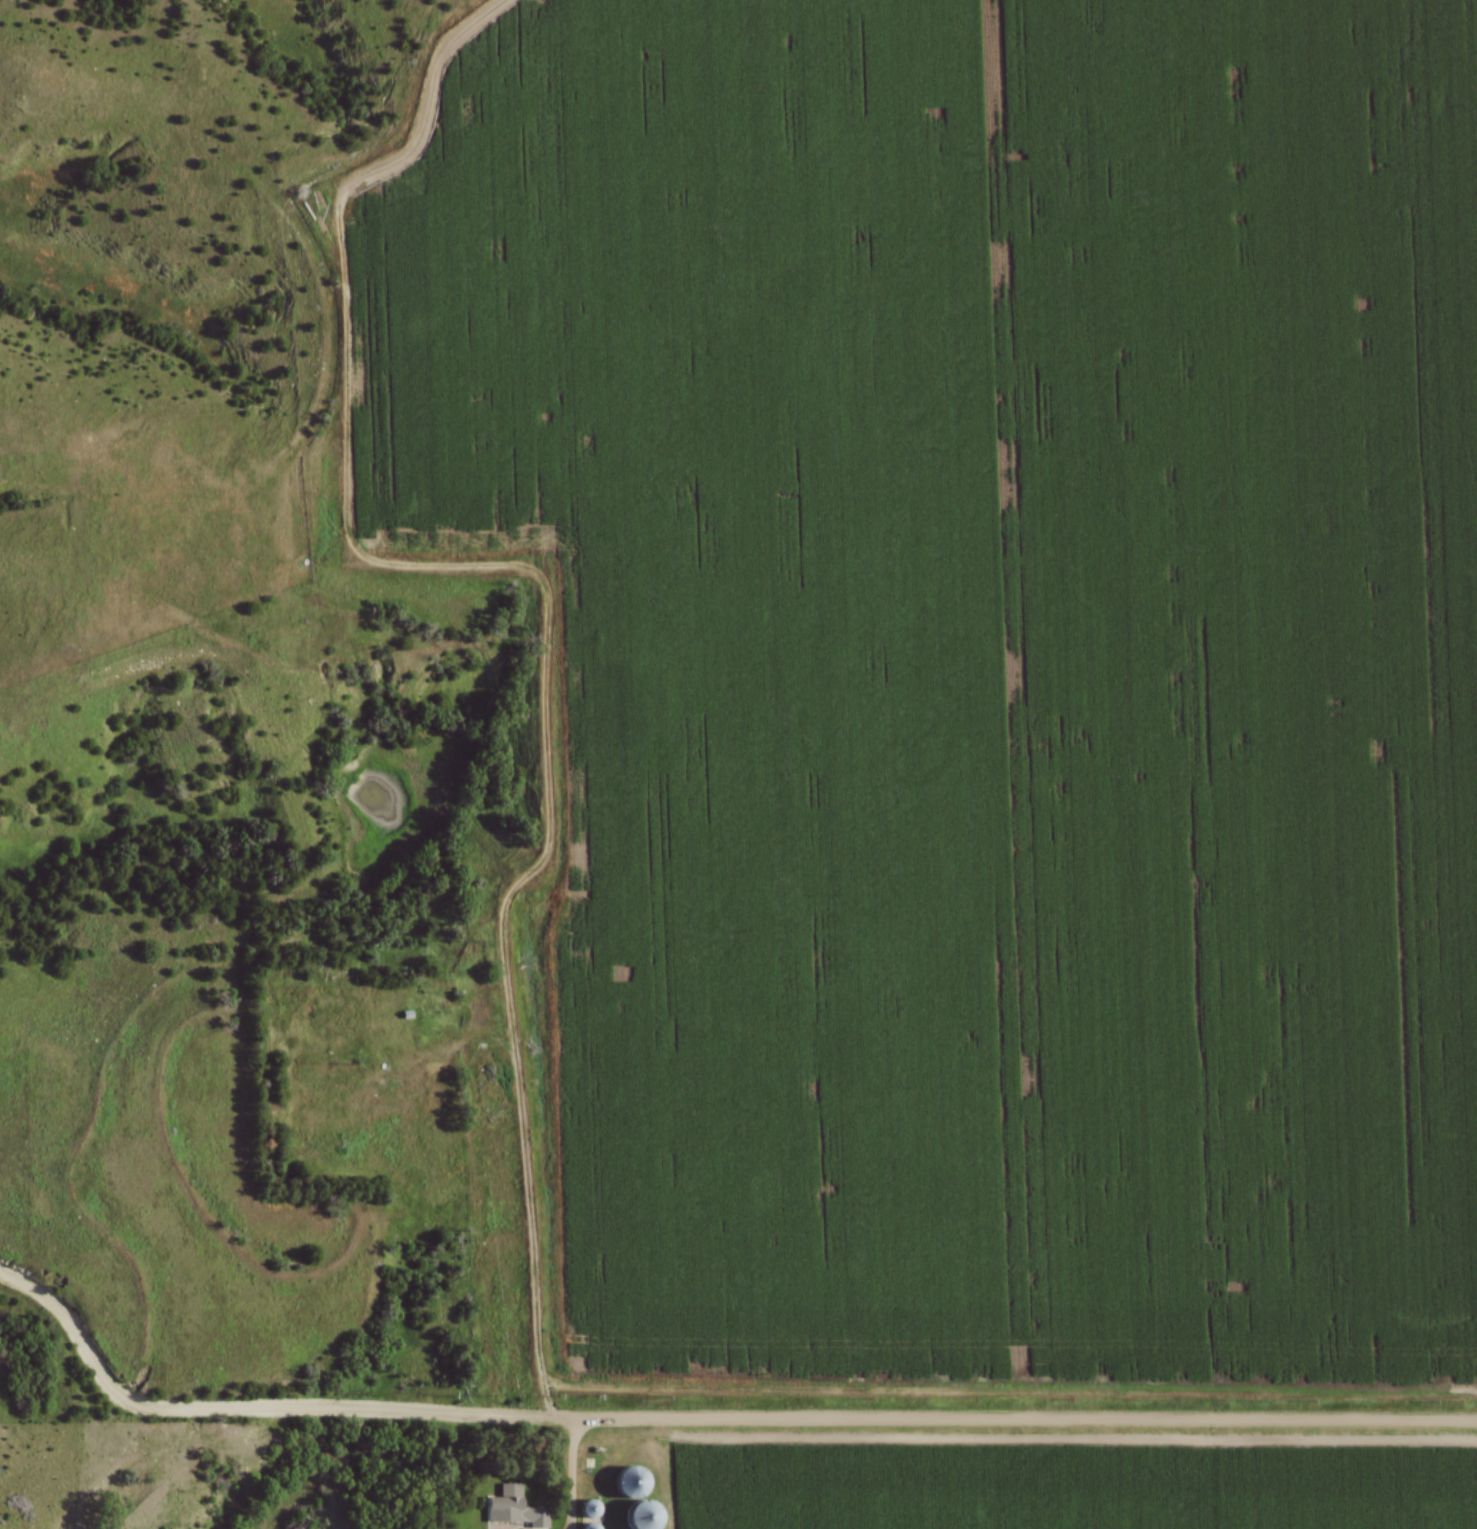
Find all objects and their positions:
road: (527, 1172)
road: (709, 1419)
road: (573, 1474)
building: (629, 1482)
building: (587, 1509)
building: (511, 1510)
building: (639, 1516)
building: (586, 1527)

